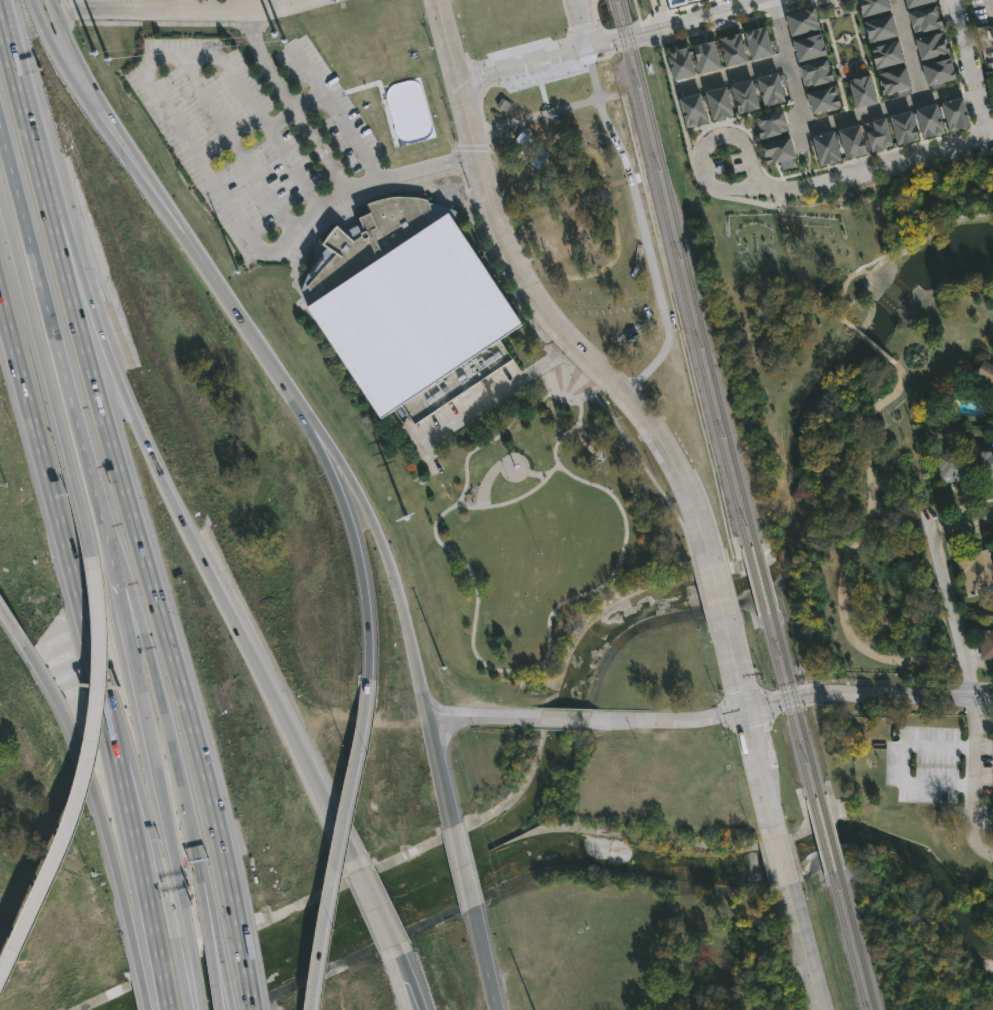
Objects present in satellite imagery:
building: (676, 1)
road: (770, 1)
street lamp: (806, 2)
building: (916, 2)
road: (52, 4)
road: (187, 4)
road: (176, 7)
building: (872, 7)
road: (988, 8)
road: (742, 9)
road: (661, 11)
road: (735, 19)
building: (802, 19)
building: (926, 19)
road: (650, 21)
road: (580, 25)
building: (880, 27)
road: (645, 28)
parking lot: (983, 29)
power tower: (280, 32)
power tower: (86, 34)
road: (845, 35)
road: (647, 36)
road: (855, 38)
road: (446, 41)
street lamp: (665, 41)
fountain: (844, 41)
building: (758, 43)
road: (835, 43)
building: (932, 44)
street lamp: (559, 45)
building: (809, 46)
road: (910, 48)
building: (732, 51)
street lamp: (319, 52)
building: (886, 53)
road: (835, 55)
road: (864, 55)
building: (705, 56)
road: (267, 59)
street lamp: (577, 61)
building: (680, 63)
street lamp: (478, 64)
road: (522, 66)
building: (939, 70)
road: (309, 71)
building: (816, 72)
road: (732, 75)
road: (788, 76)
building: (893, 79)
road: (560, 80)
street lamp: (499, 81)
street lamp: (172, 84)
street lamp: (261, 84)
building: (769, 90)
building: (862, 90)
street lamp: (670, 95)
building: (744, 95)
street lamp: (348, 96)
building: (823, 98)
building: (718, 103)
building: (499, 107)
road: (872, 109)
building: (693, 110)
road: (541, 113)
building: (954, 114)
road: (740, 117)
road: (342, 120)
building: (929, 120)
road: (97, 122)
road: (114, 123)
building: (770, 124)
building: (904, 127)
road: (25, 129)
street lamp: (593, 129)
parking lot: (254, 133)
street lamp: (974, 133)
building: (878, 134)
road: (731, 135)
road: (193, 138)
building: (851, 140)
street lamp: (378, 141)
street lamp: (693, 142)
street lamp: (212, 144)
road: (235, 146)
building: (825, 148)
building: (778, 149)
road: (470, 150)
road: (942, 150)
street lamp: (308, 151)
building: (536, 152)
road: (690, 152)
road: (319, 154)
road: (876, 154)
street lamp: (426, 159)
parking lot: (737, 161)
street lamp: (727, 165)
street lamp: (916, 165)
parking lot: (716, 166)
road: (428, 168)
road: (294, 169)
street lamp: (818, 176)
street lamp: (133, 185)
road: (620, 185)
road: (608, 189)
street lamp: (705, 189)
street lamp: (804, 195)
street lamp: (263, 222)
road: (644, 225)
park: (593, 229)
road: (899, 244)
road: (509, 254)
railway: (687, 266)
road: (797, 267)
power tower: (233, 268)
railway: (678, 268)
road: (533, 271)
road: (500, 278)
park: (809, 287)
building: (409, 306)
road: (248, 332)
street lamp: (224, 339)
road: (871, 344)
road: (55, 347)
street lamp: (539, 379)
street lamp: (572, 381)
road: (47, 385)
road: (497, 395)
street lamp: (592, 399)
road: (886, 399)
building: (990, 400)
street lamp: (496, 408)
street lamp: (576, 430)
road: (498, 432)
road: (37, 443)
road: (580, 447)
road: (865, 448)
road: (329, 452)
road: (322, 455)
street lamp: (508, 456)
street lamp: (559, 460)
building: (984, 465)
building: (951, 467)
street lamp: (527, 469)
road: (676, 473)
street lamp: (318, 476)
street lamp: (506, 479)
road: (533, 479)
street lamp: (606, 487)
street lamp: (456, 498)
road: (900, 506)
power tower: (401, 514)
road: (960, 517)
street lamp: (629, 533)
park: (524, 539)
flagpole: (525, 541)
road: (197, 552)
street lamp: (449, 556)
road: (940, 568)
railway: (763, 572)
building: (974, 572)
railway: (754, 575)
road: (147, 576)
road: (361, 582)
street lamp: (612, 582)
road: (715, 592)
street lamp: (355, 597)
road: (129, 601)
road: (120, 603)
street lamp: (473, 603)
road: (840, 604)
street lamp: (554, 616)
road: (12, 627)
road: (411, 645)
building: (986, 645)
street lamp: (469, 650)
road: (94, 659)
road: (961, 660)
road: (734, 664)
road: (486, 670)
power tower: (445, 685)
road: (868, 696)
railway: (794, 697)
railway: (784, 700)
traffic signals: (746, 711)
road: (479, 718)
road: (569, 720)
road: (677, 720)
road: (173, 760)
road: (973, 764)
road: (758, 769)
parking lot: (945, 771)
road: (82, 784)
road: (131, 790)
park: (929, 790)
road: (159, 796)
road: (93, 805)
road: (992, 809)
railway: (829, 834)
railway: (819, 836)
road: (978, 846)
road: (135, 848)
road: (338, 850)
road: (778, 857)
road: (461, 868)
toll booth: (165, 897)
toll booth: (180, 898)
road: (165, 901)
road: (208, 909)
road: (374, 909)
road: (204, 912)
railway: (858, 946)
road: (803, 948)
railway: (848, 948)
road: (483, 960)
road: (398, 962)
road: (244, 968)
road: (223, 973)
road: (212, 976)
road: (194, 980)
road: (182, 982)
road: (163, 987)
road: (139, 992)
road: (408, 994)
road: (413, 994)

